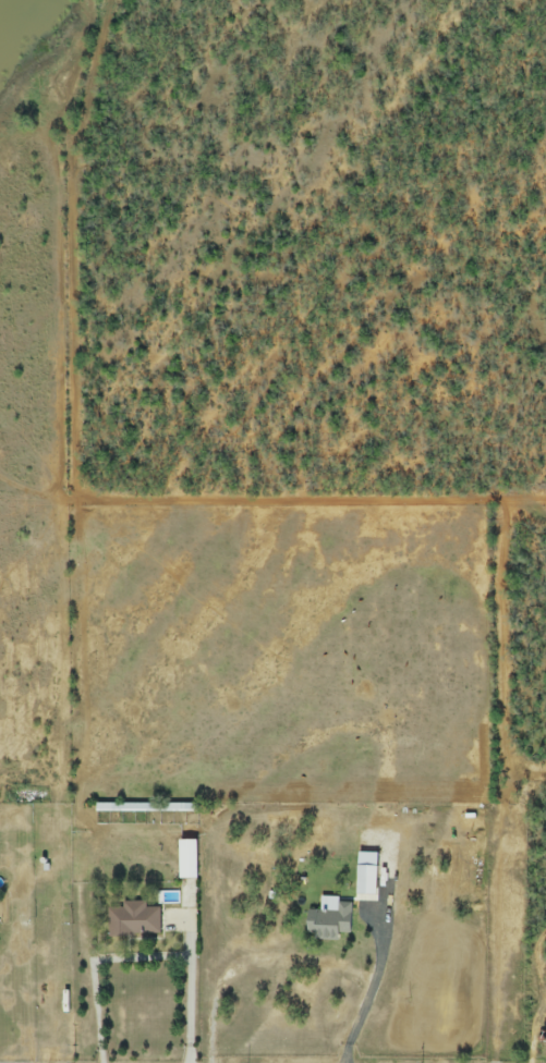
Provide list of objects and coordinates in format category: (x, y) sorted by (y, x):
building: (187, 860)
building: (132, 919)
building: (330, 924)
road: (98, 966)
road: (372, 992)
road: (193, 993)

